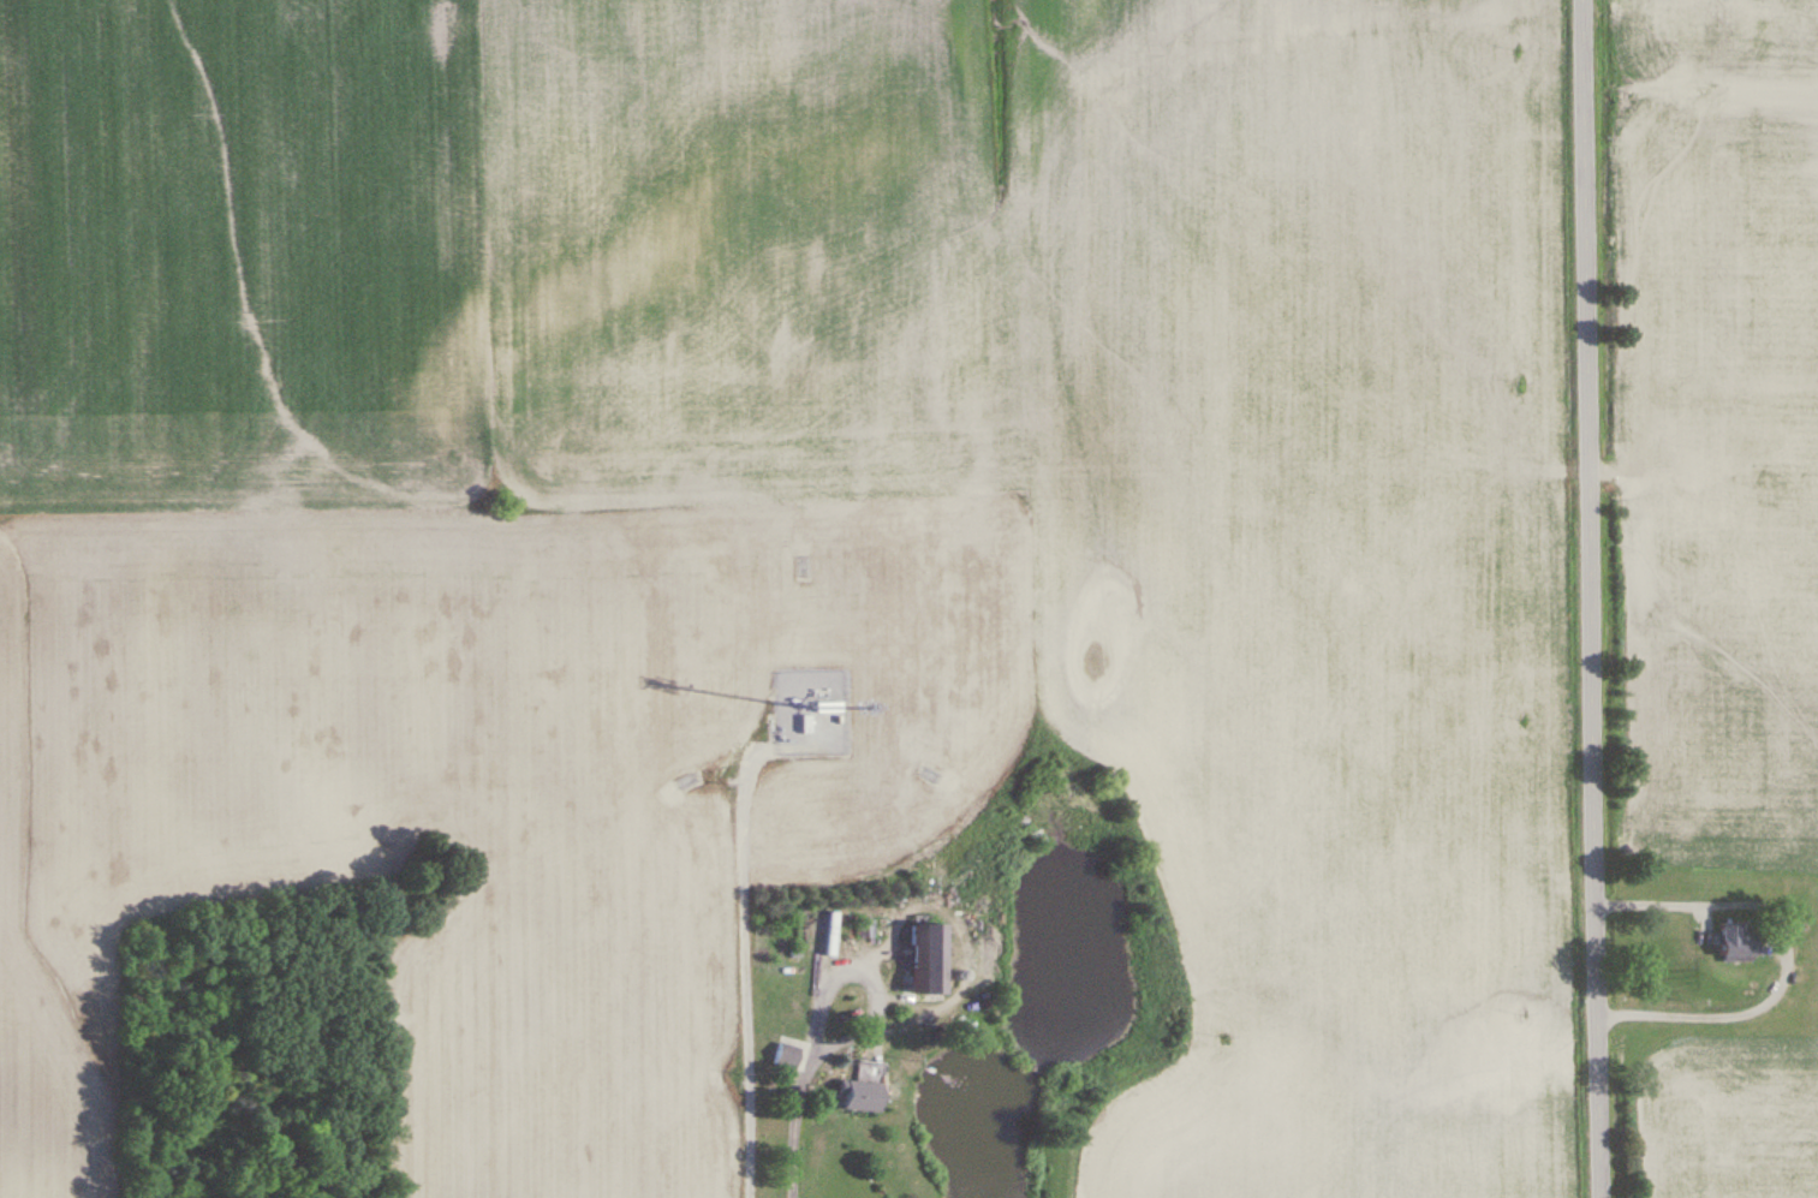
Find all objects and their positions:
road: (1588, 598)
building: (829, 708)
building: (1741, 943)
road: (1783, 947)
building: (929, 961)
road: (726, 971)
building: (787, 1056)
road: (806, 1074)
building: (862, 1097)

